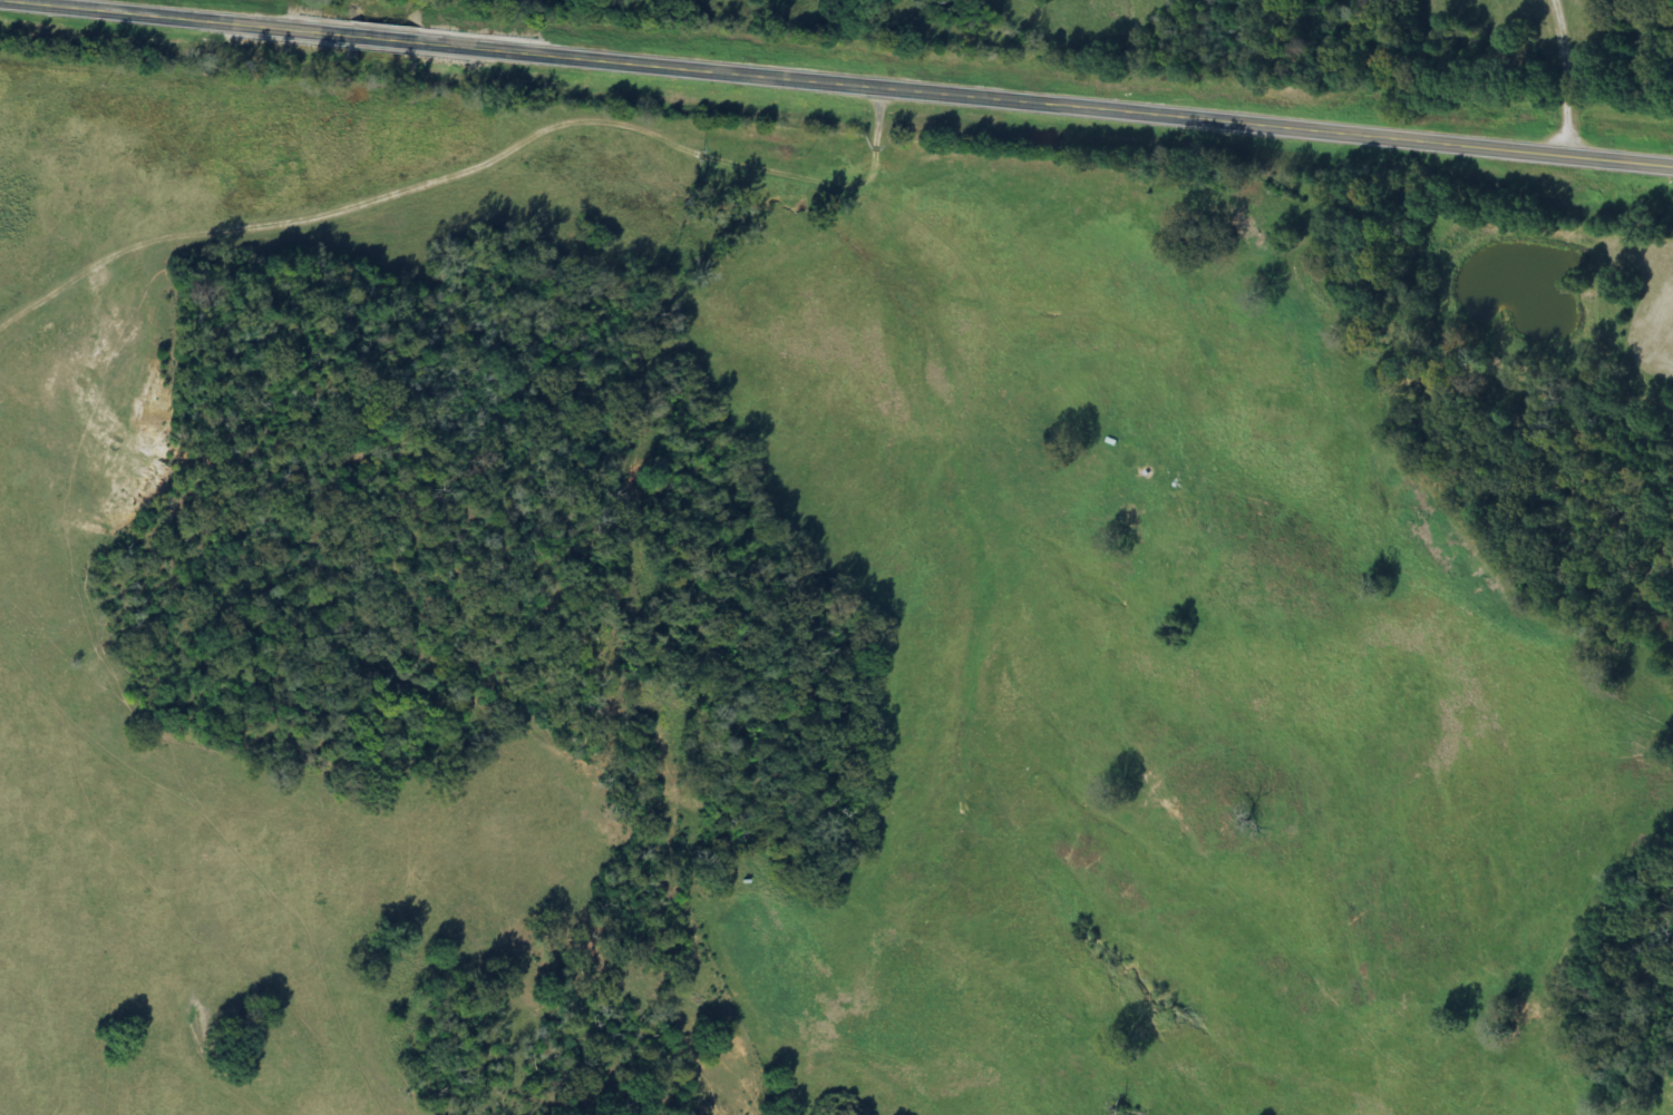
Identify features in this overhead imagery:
road: (516, 39)
road: (1295, 123)

